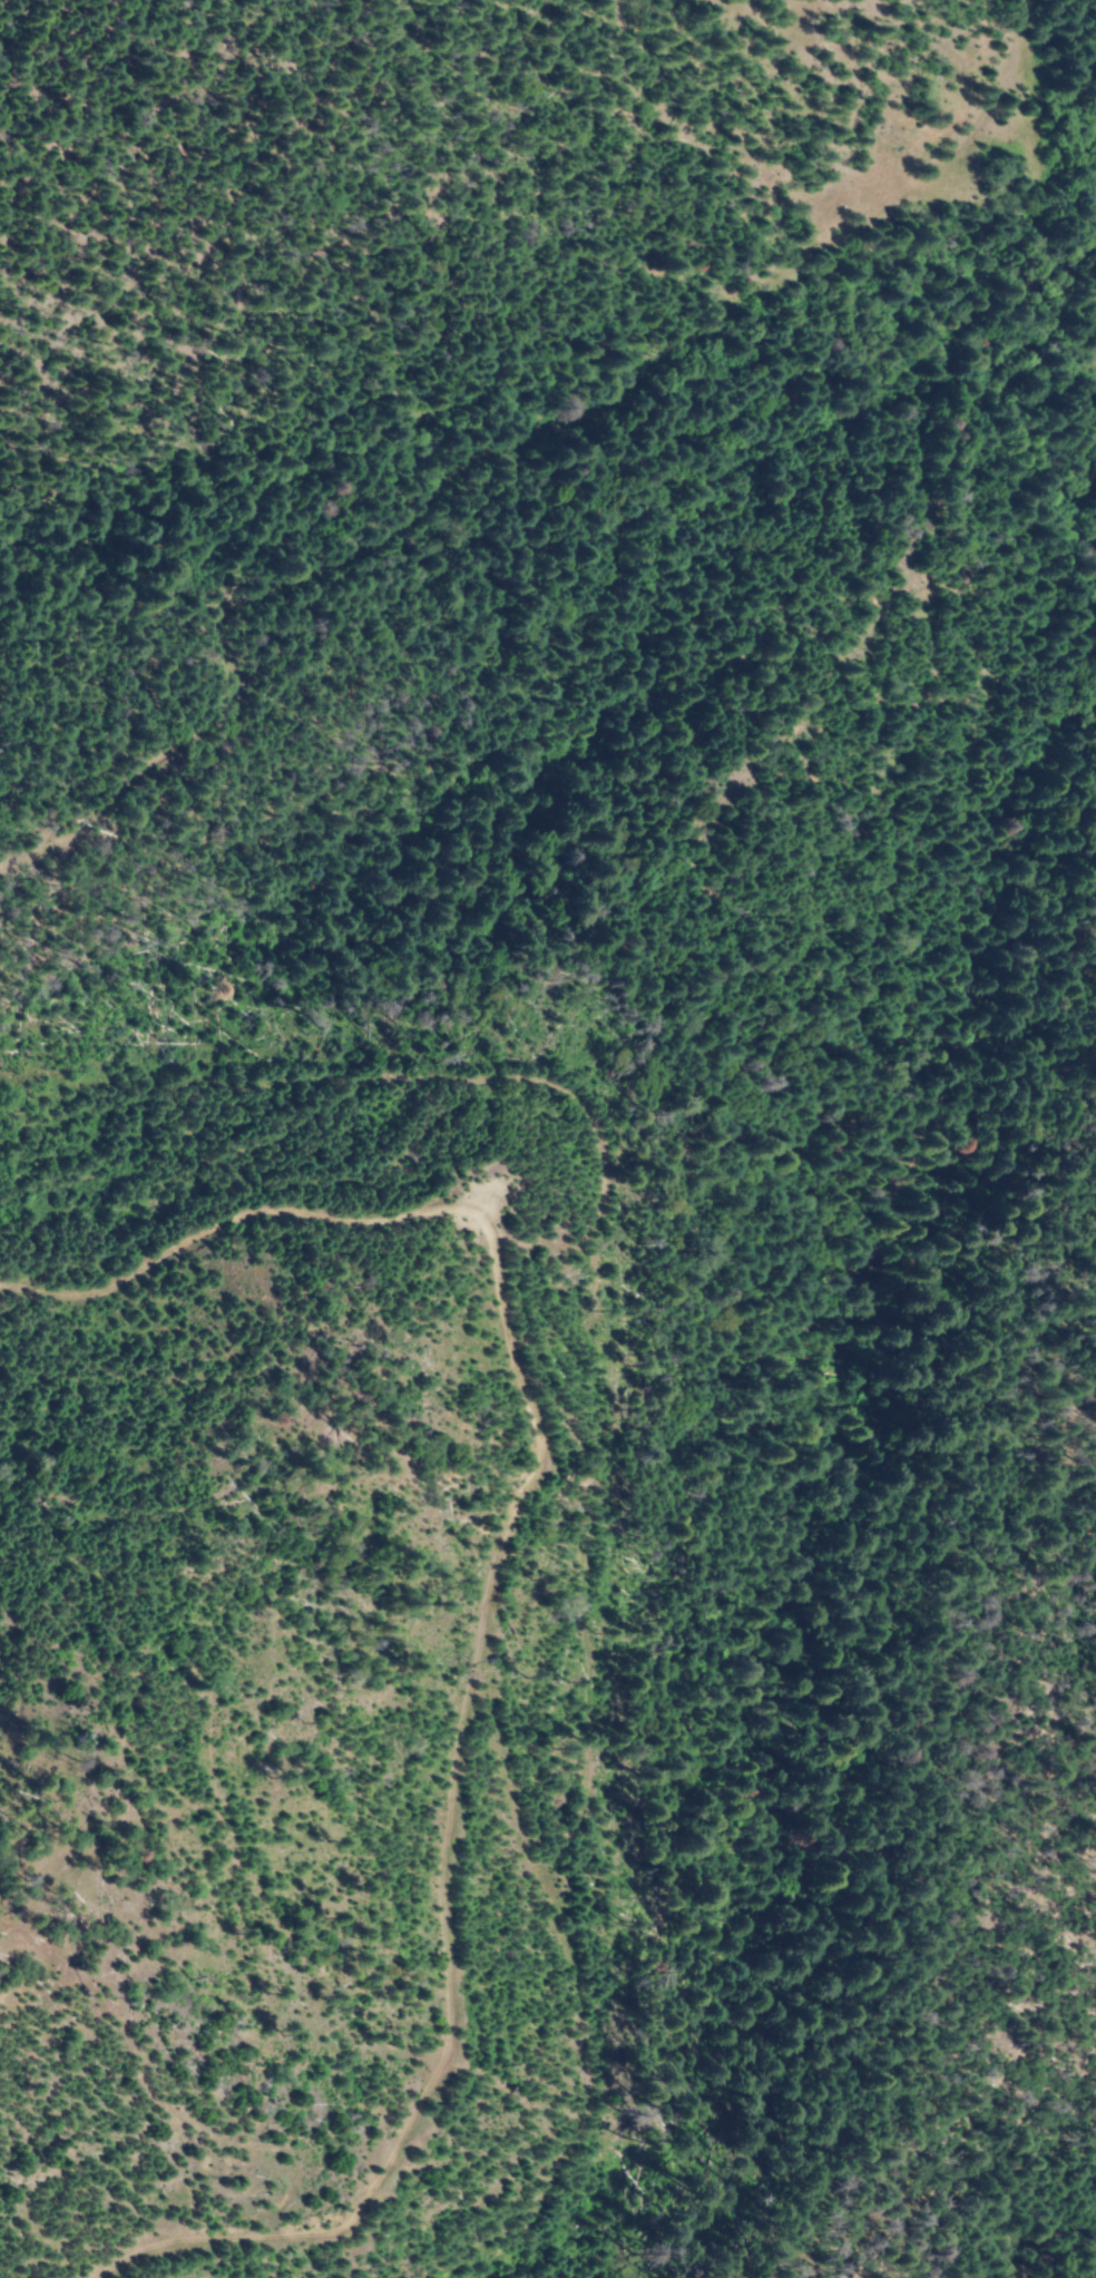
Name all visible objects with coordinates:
road: (350, 242)

